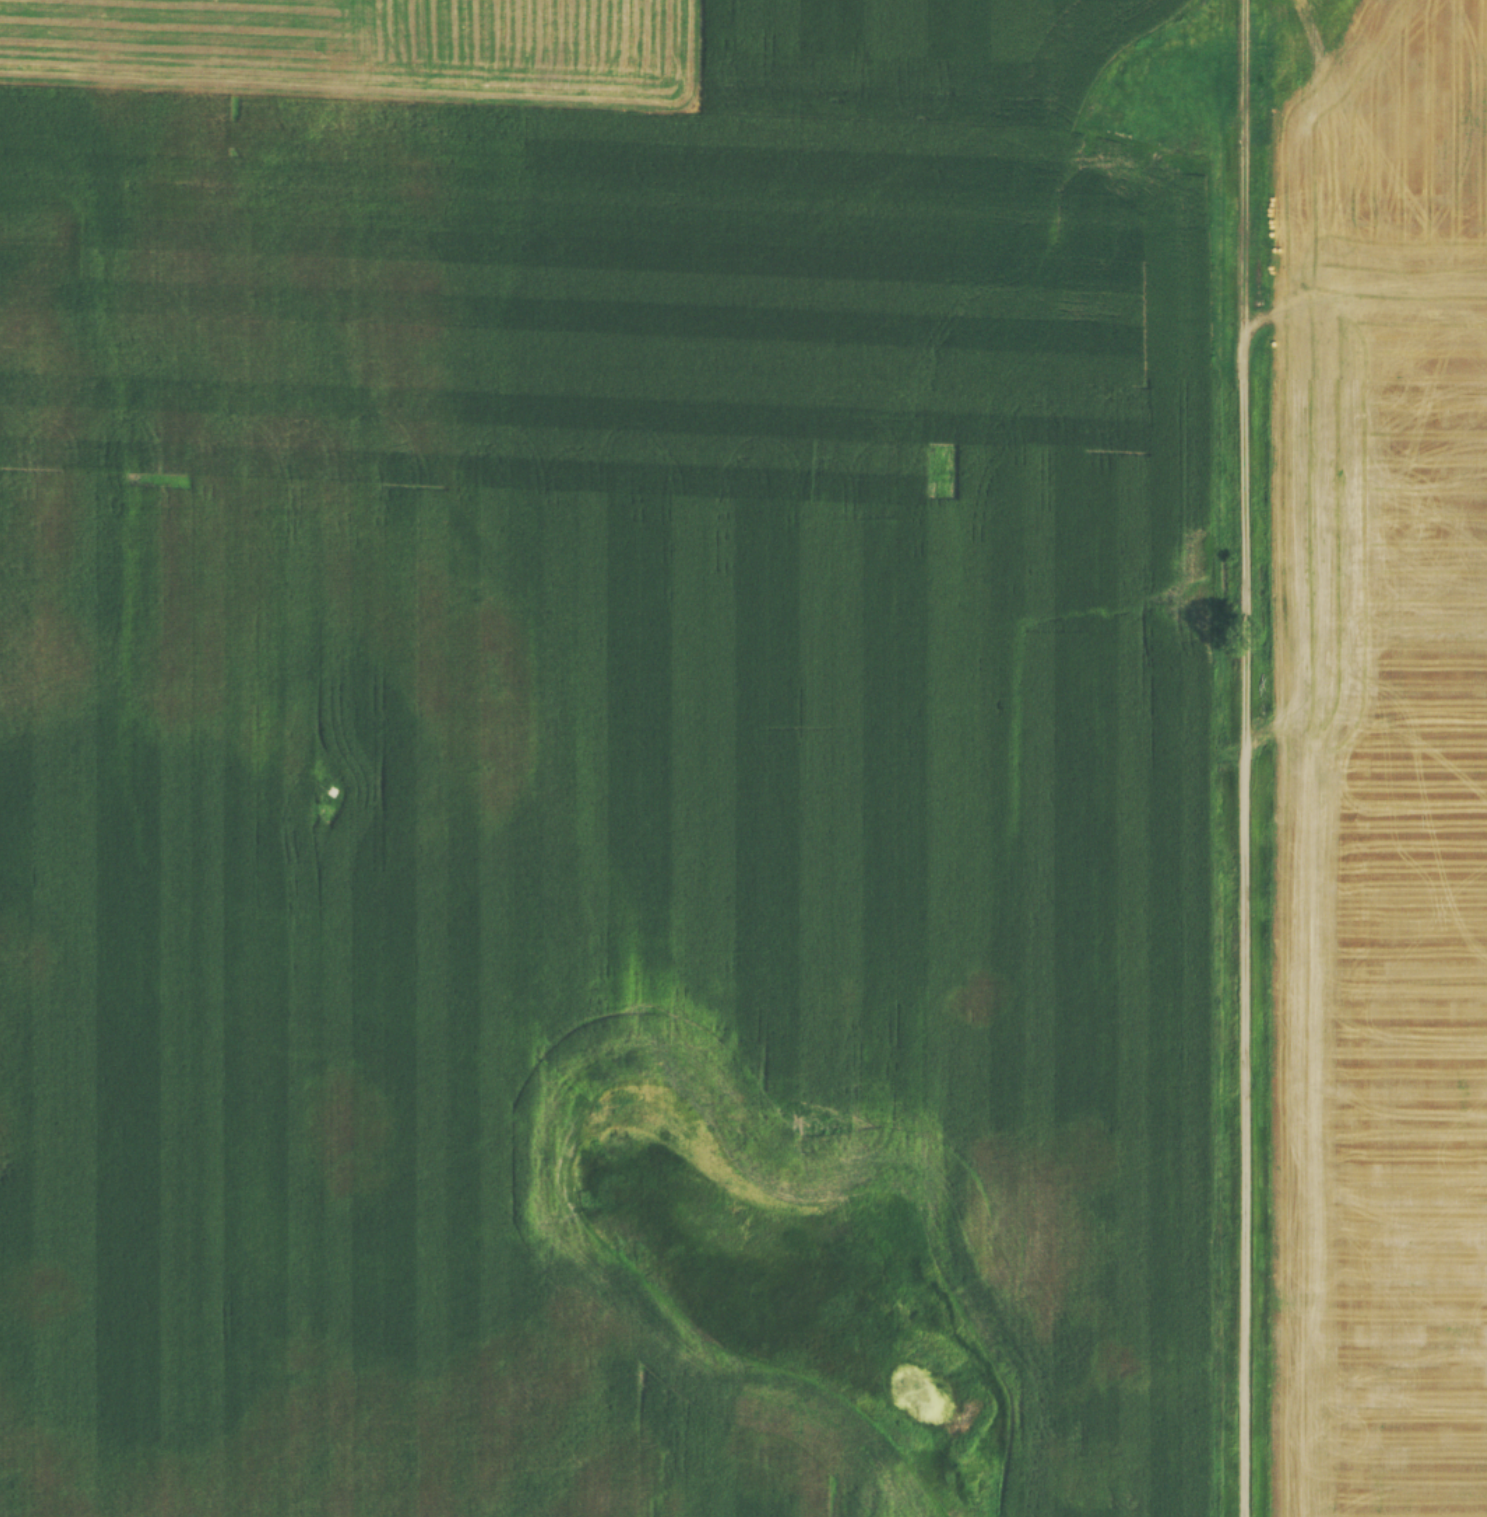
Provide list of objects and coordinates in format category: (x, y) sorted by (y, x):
road: (1244, 758)

